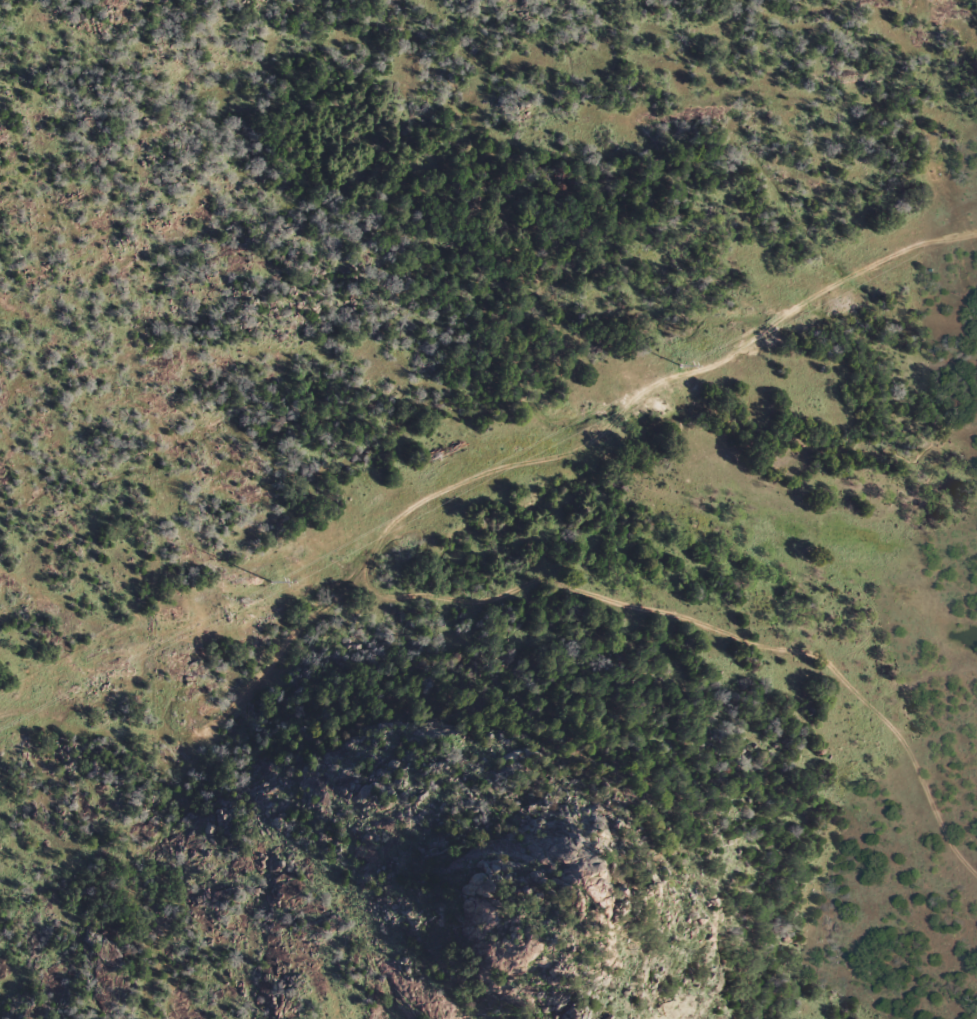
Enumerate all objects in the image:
road: (619, 71)
power tower: (679, 365)
power tower: (270, 581)
road: (471, 622)
road: (912, 774)

